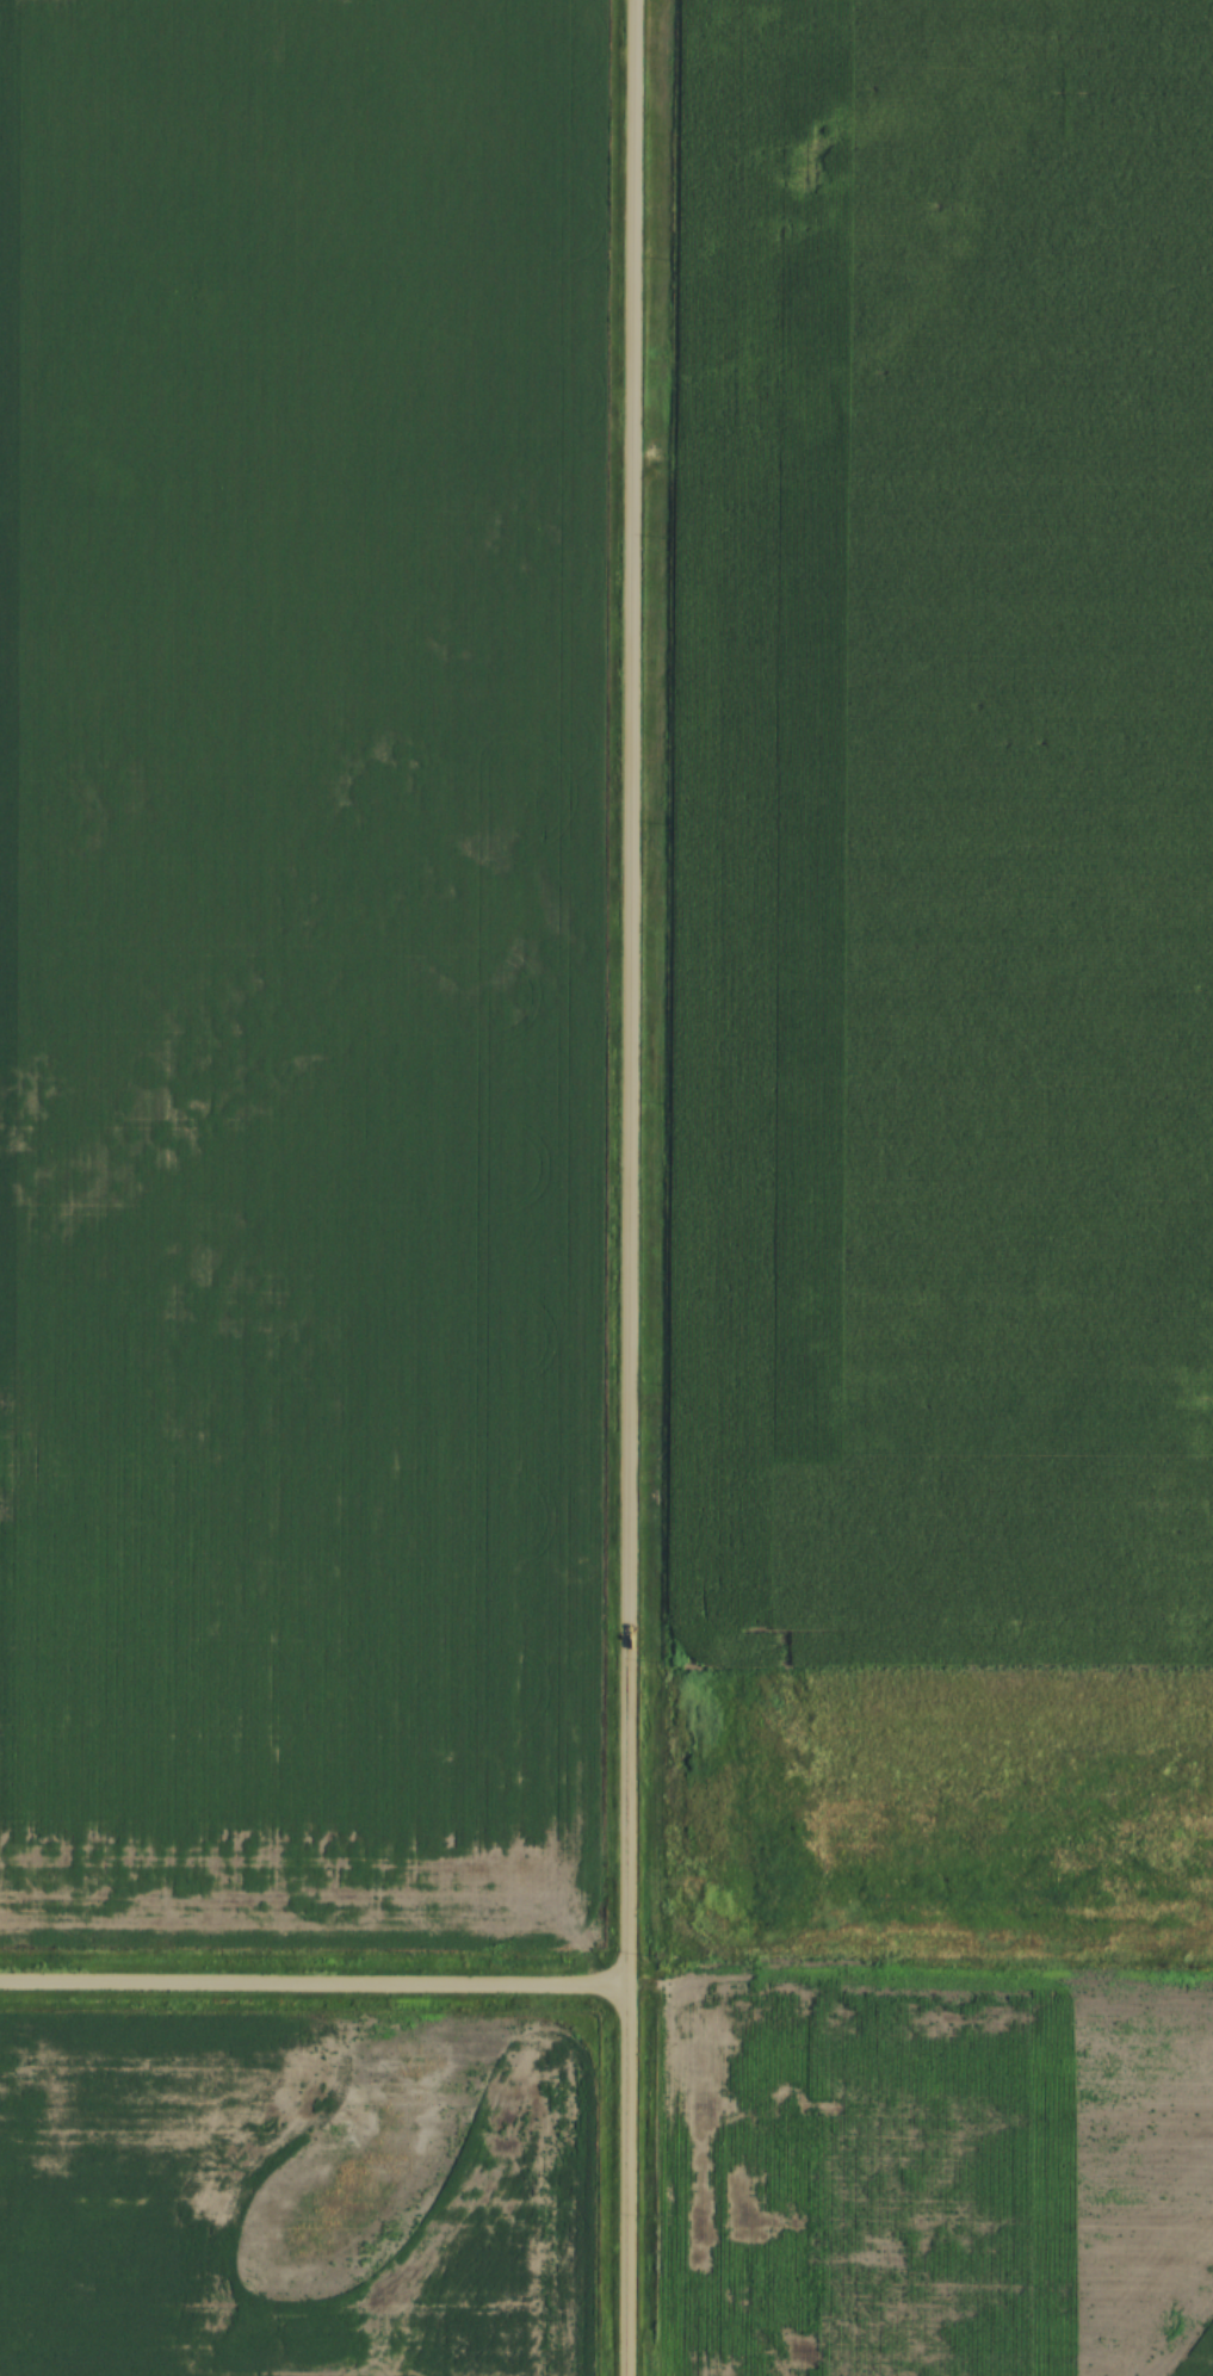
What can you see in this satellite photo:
road: (623, 1188)
road: (308, 1964)

